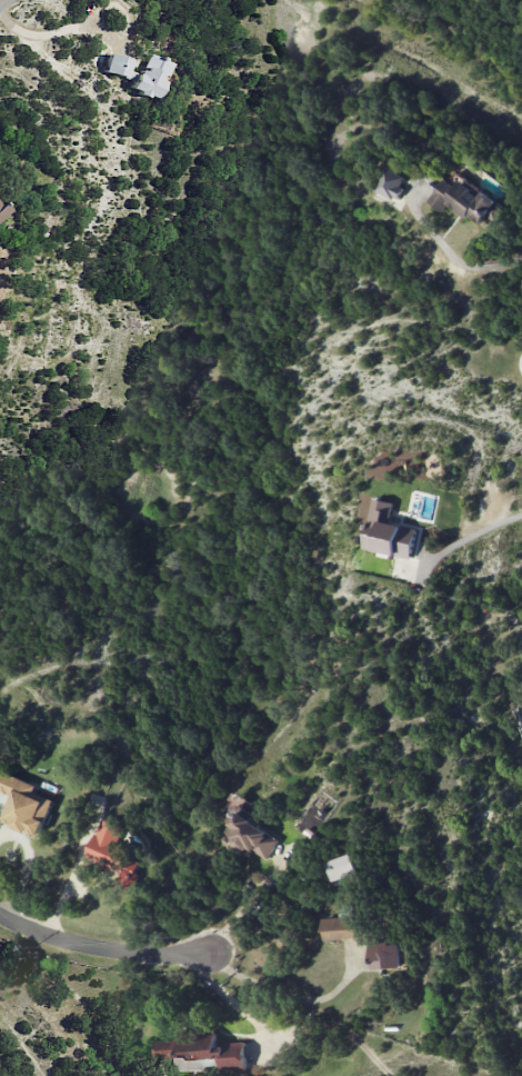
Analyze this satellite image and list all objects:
road: (2, 2)
road: (54, 31)
building: (139, 73)
building: (391, 186)
building: (466, 200)
building: (2, 210)
road: (461, 261)
building: (389, 531)
road: (469, 536)
building: (24, 804)
building: (247, 828)
building: (113, 853)
building: (342, 867)
road: (243, 905)
building: (340, 927)
road: (98, 947)
building: (384, 955)
road: (284, 993)
building: (201, 1052)

